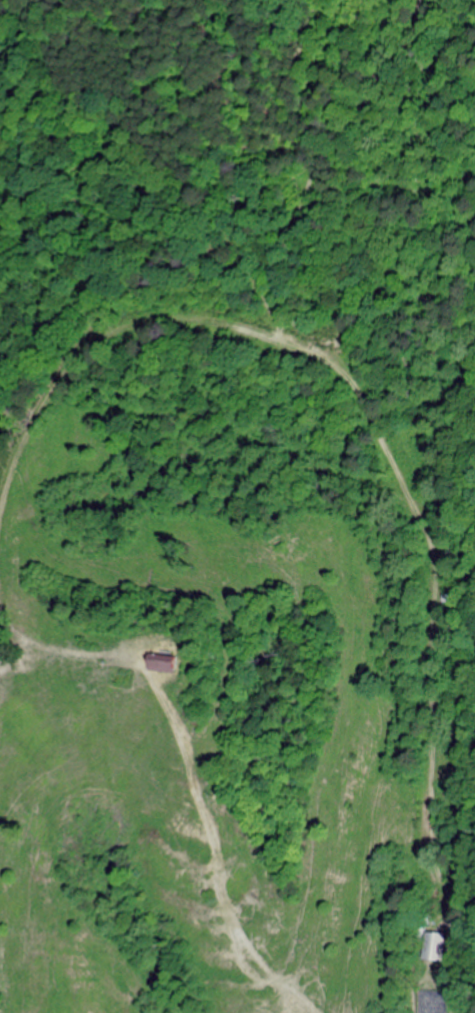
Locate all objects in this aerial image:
building: (169, 664)
building: (434, 947)

